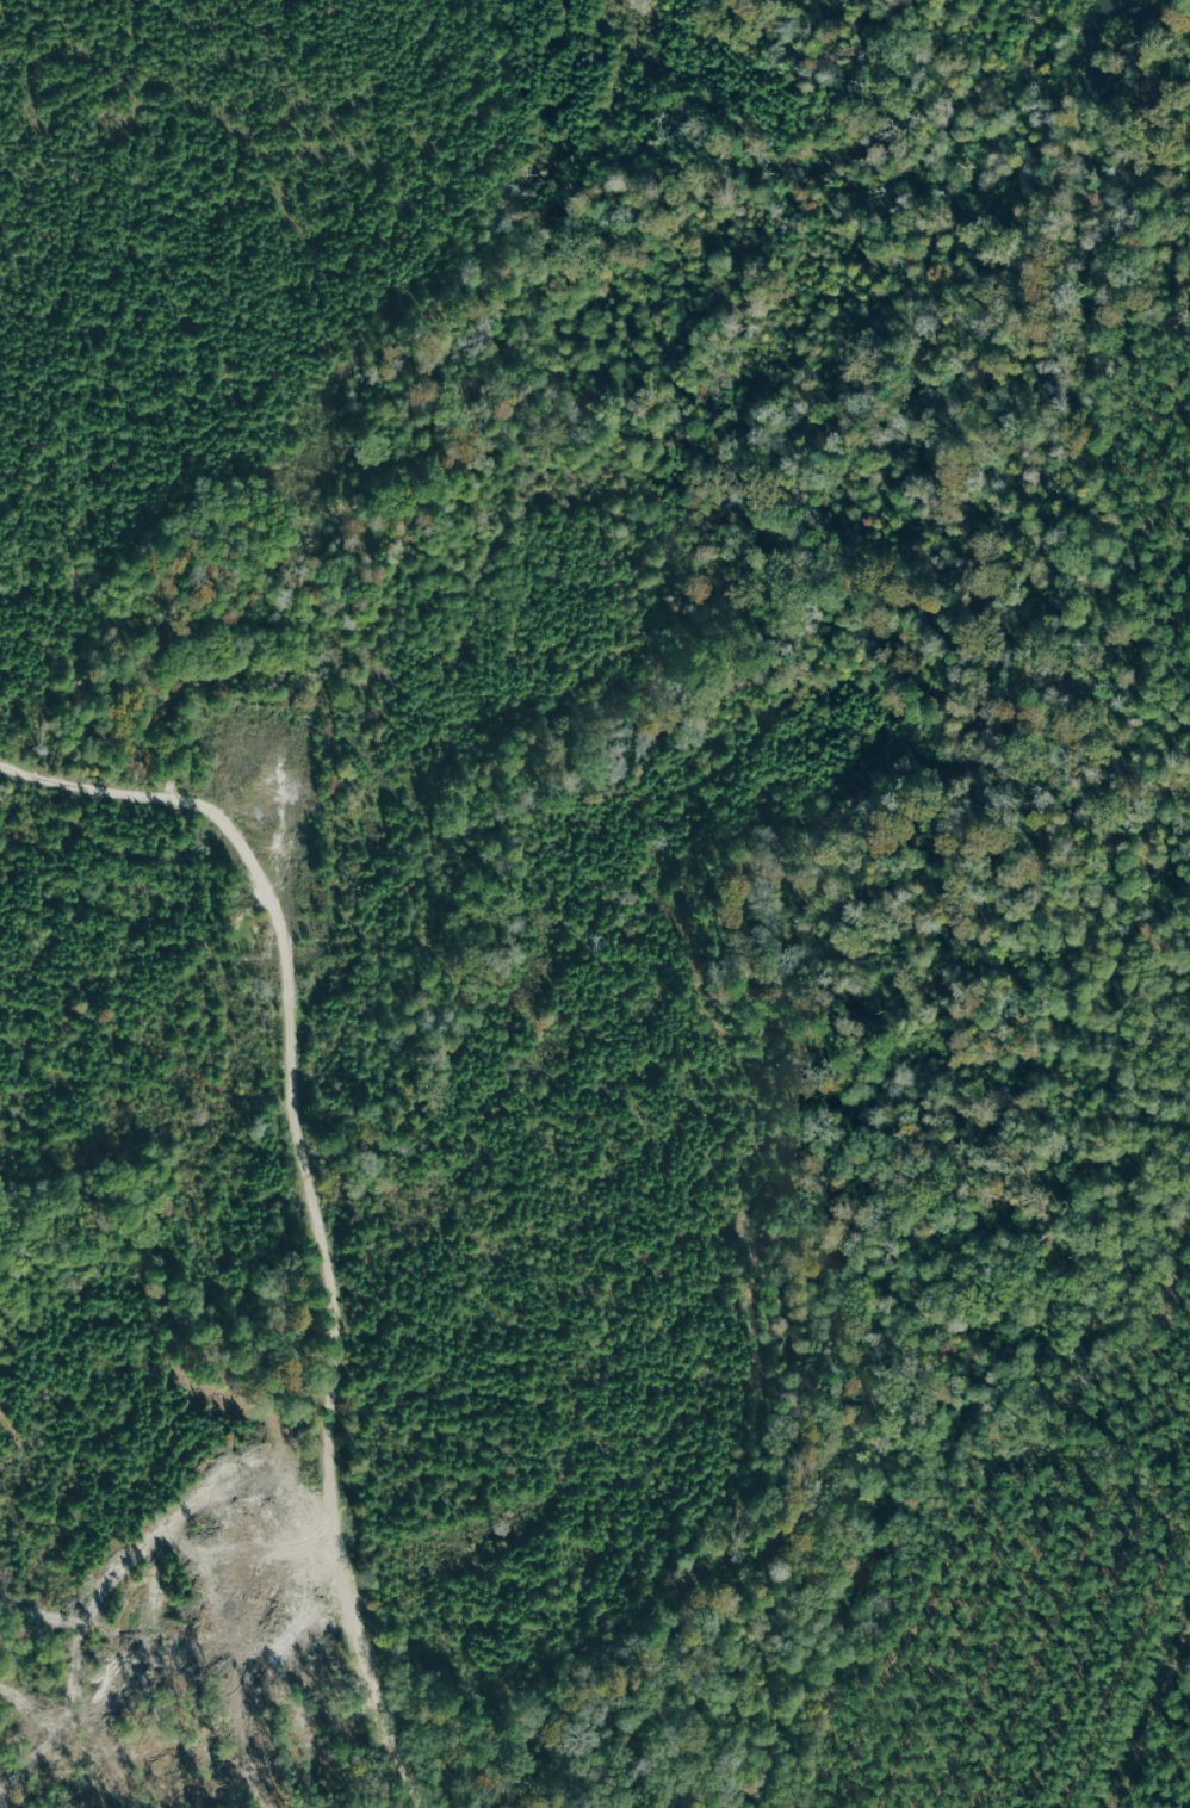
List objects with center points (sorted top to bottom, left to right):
road: (320, 1196)
road: (1147, 1710)

